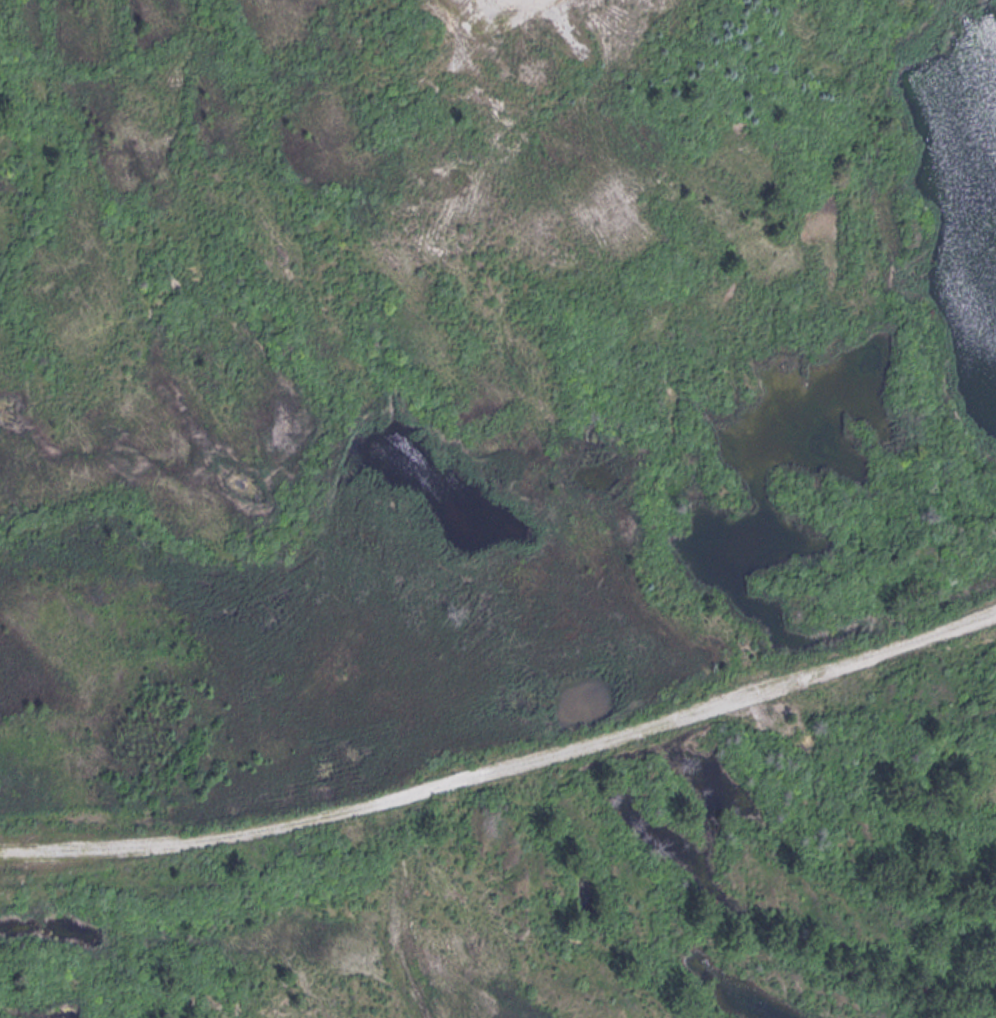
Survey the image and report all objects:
road: (505, 761)

